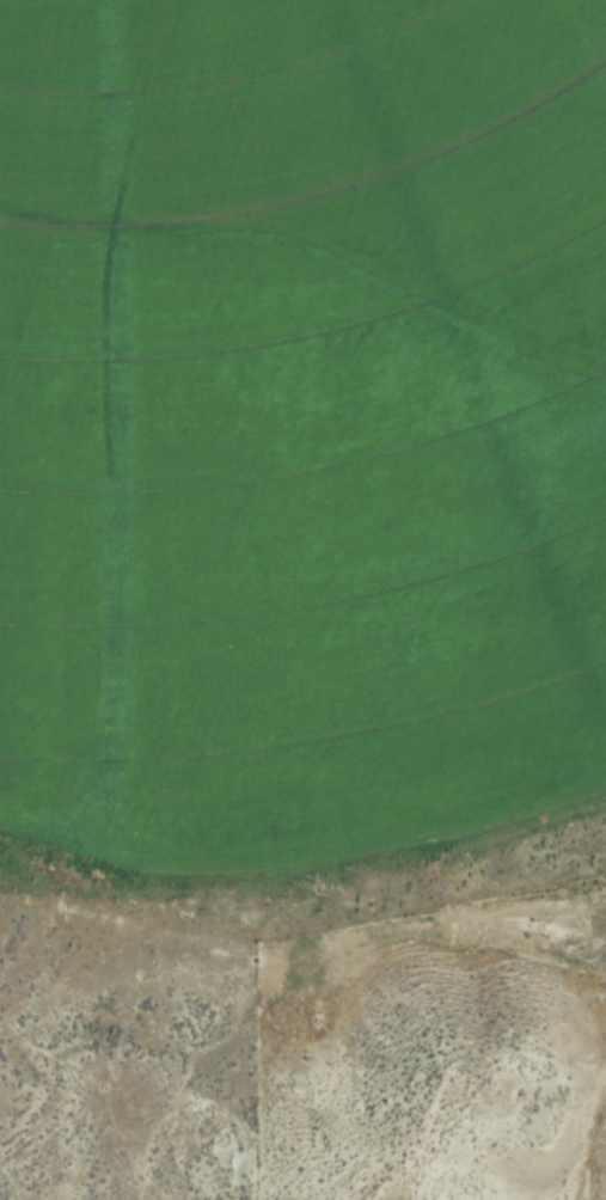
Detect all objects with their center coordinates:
road: (299, 941)

